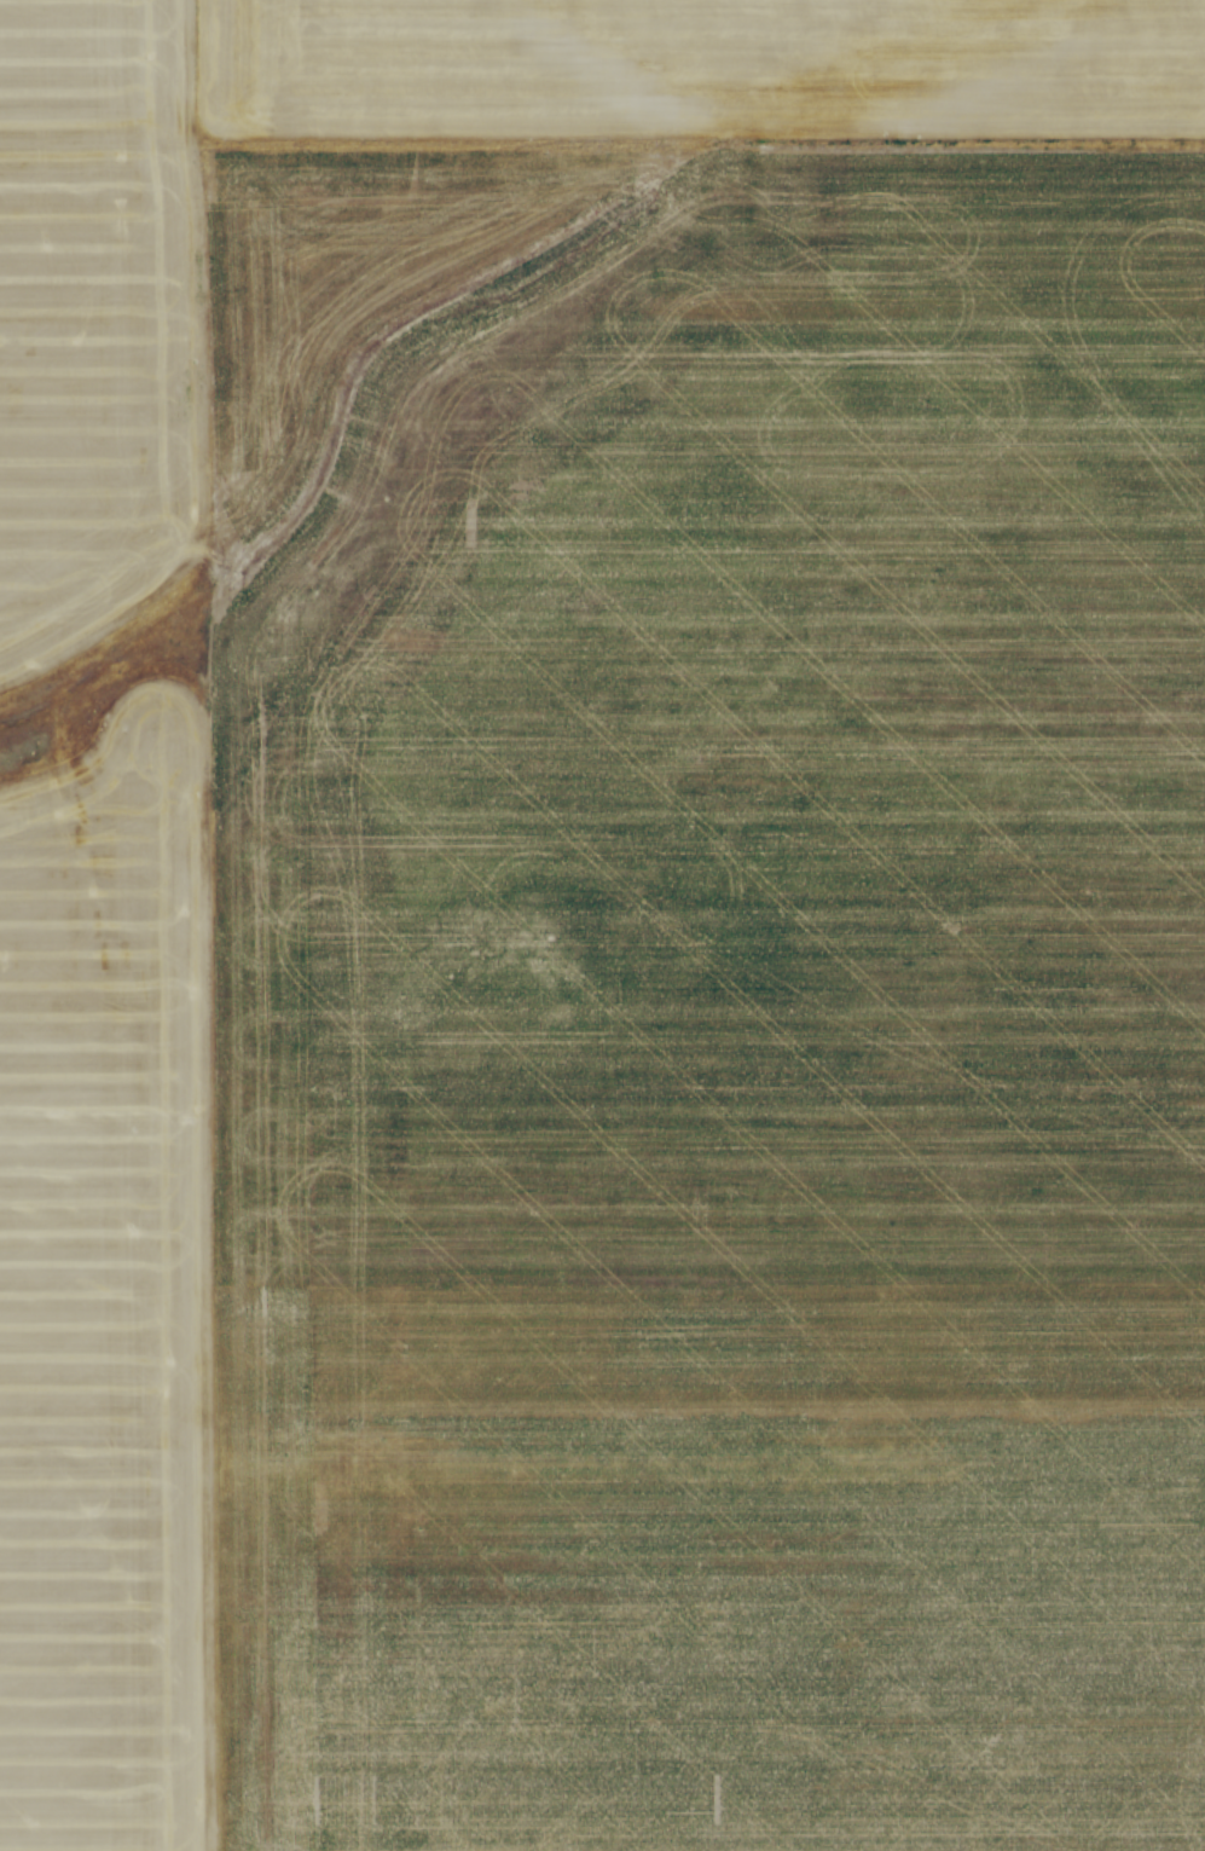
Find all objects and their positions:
crop: (671, 1013)

